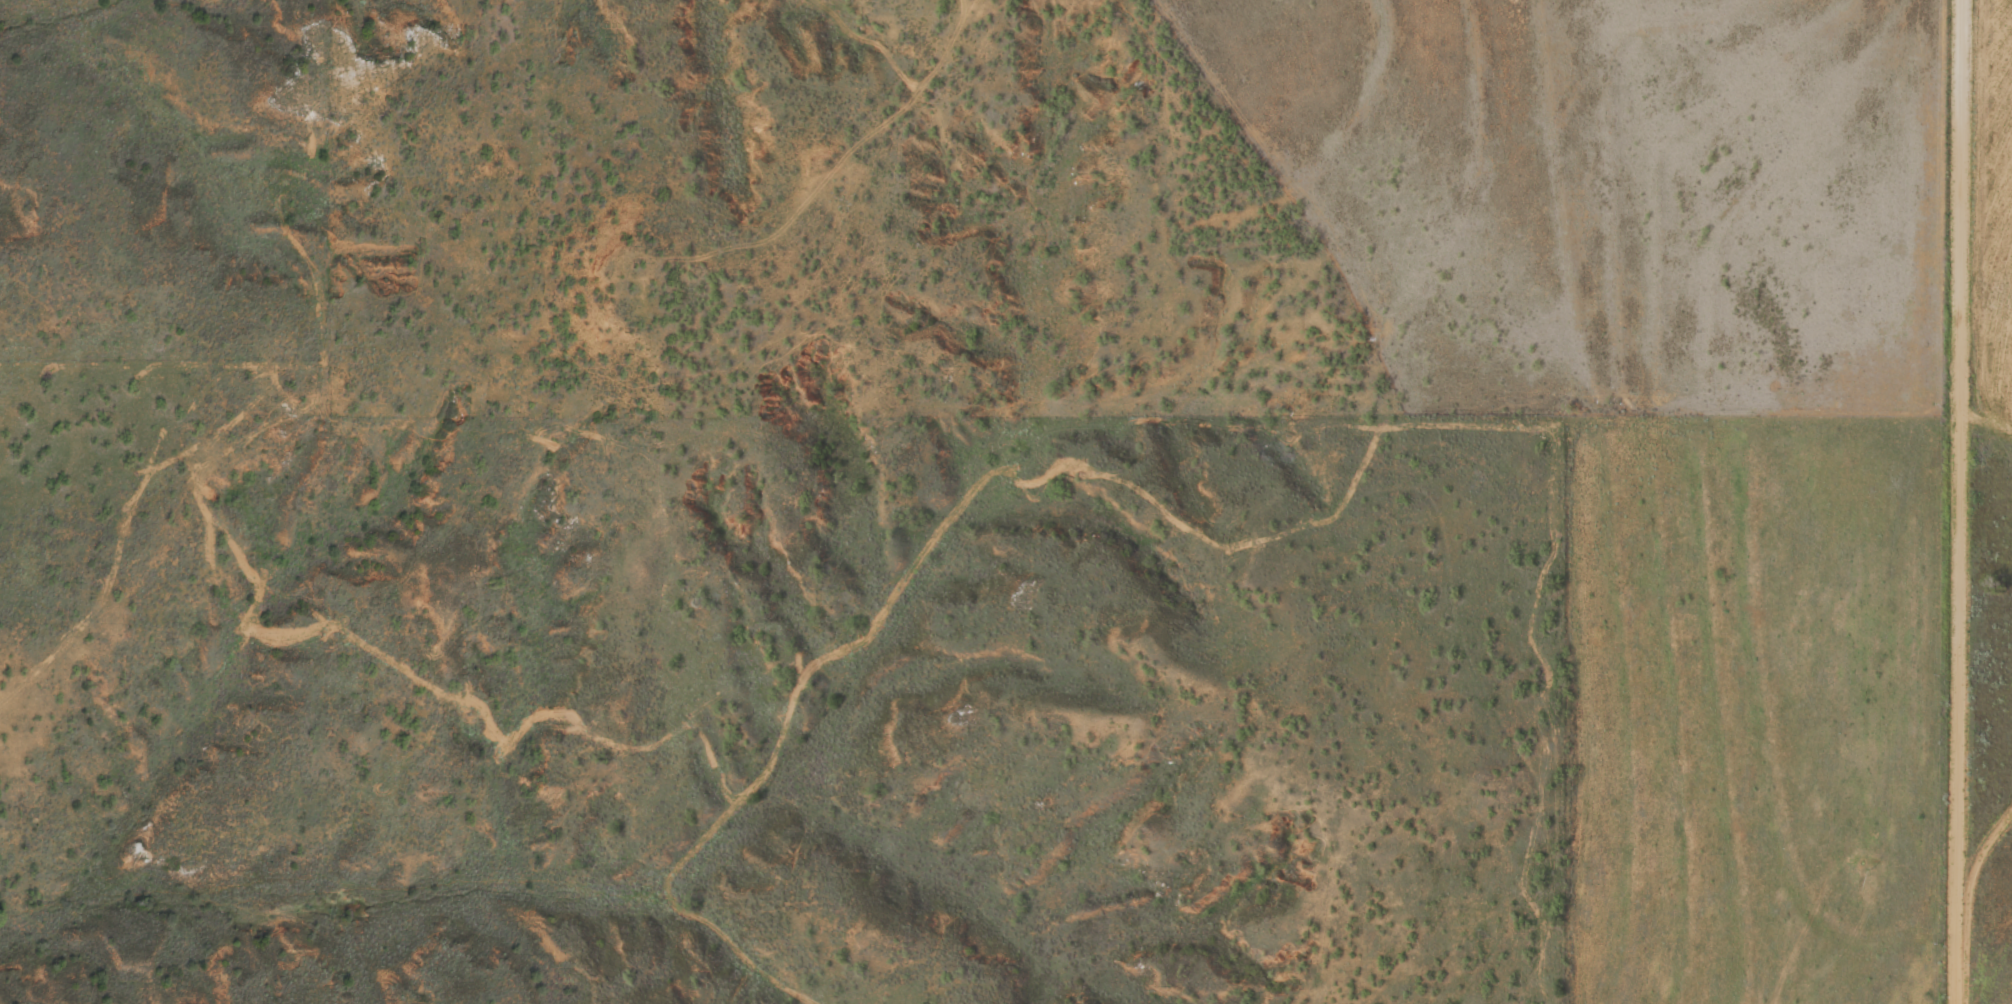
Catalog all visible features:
road: (1960, 501)

